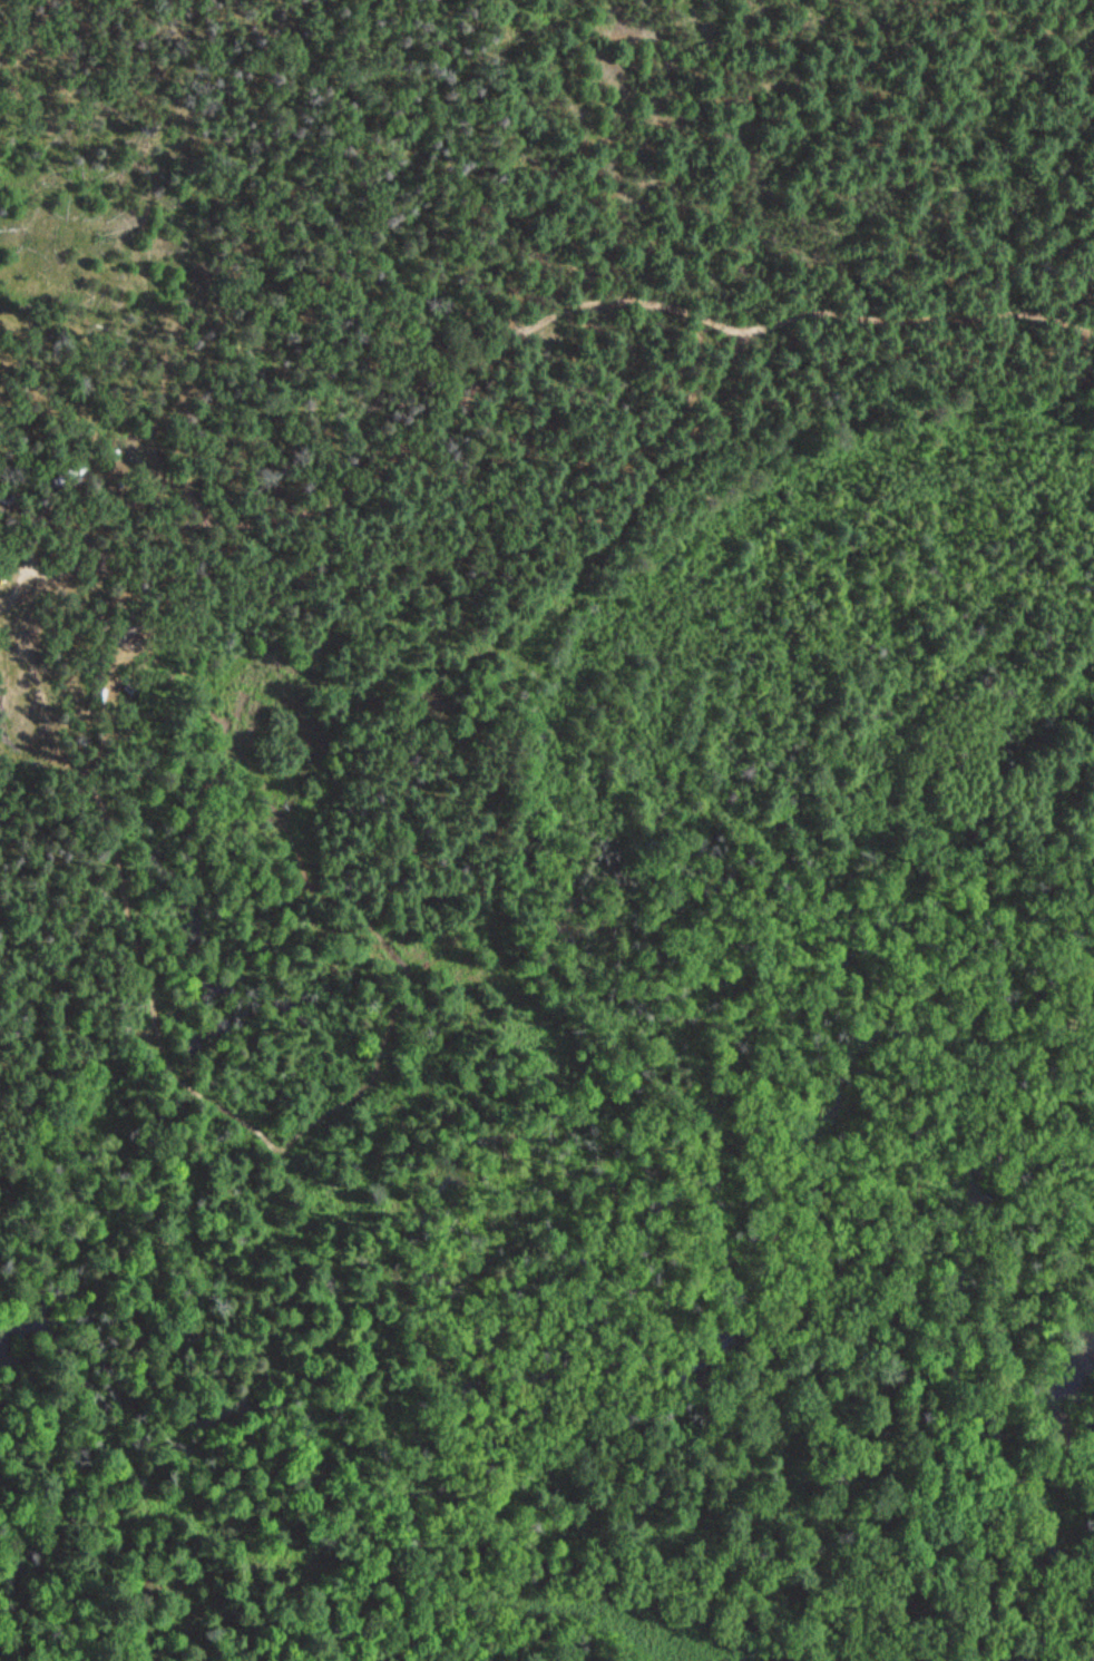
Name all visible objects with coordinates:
road: (784, 319)
building: (60, 480)
building: (121, 634)

